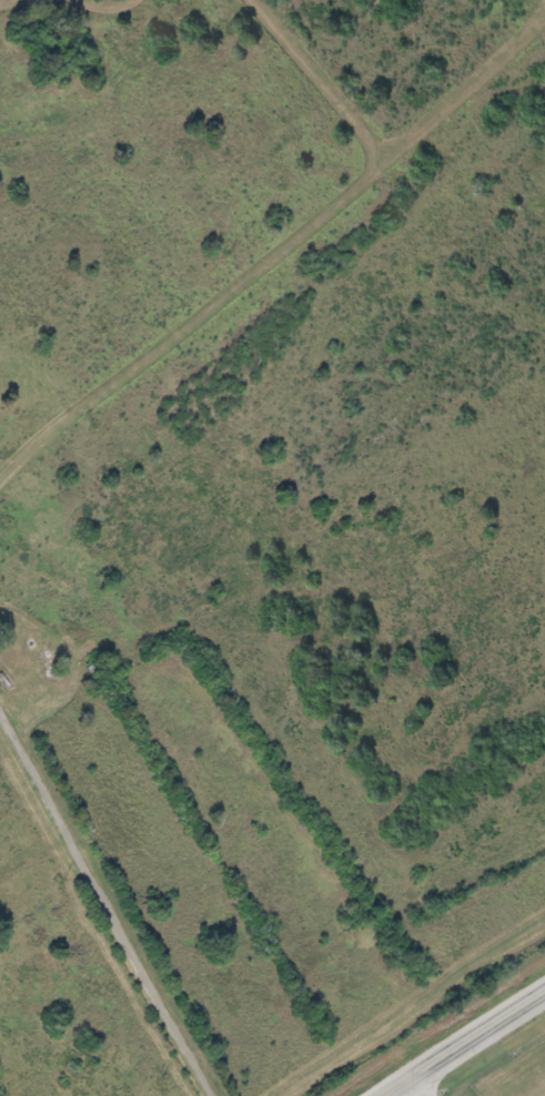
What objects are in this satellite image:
road: (260, 242)
road: (107, 912)
road: (410, 1007)
road: (467, 1046)

